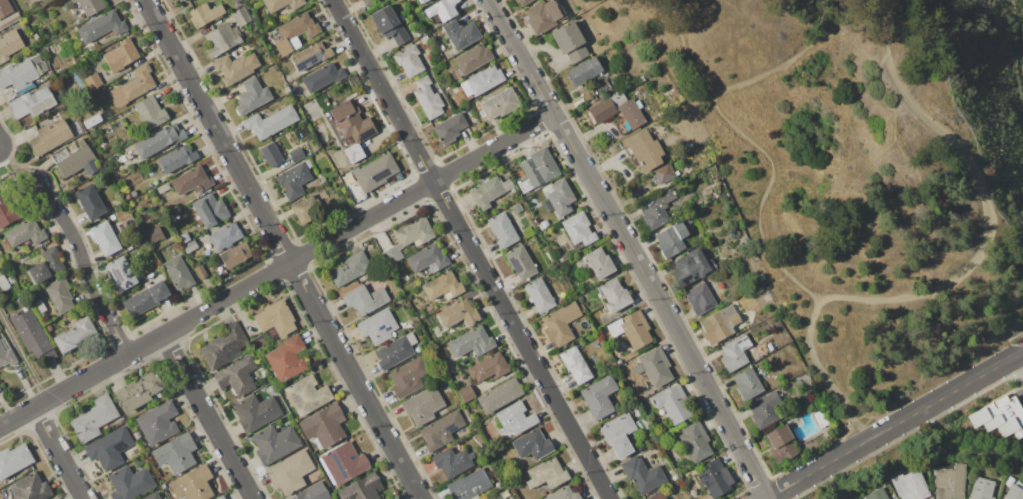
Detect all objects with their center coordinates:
building: (177, 0)
building: (180, 0)
building: (420, 1)
road: (667, 1)
building: (524, 2)
building: (282, 4)
building: (370, 4)
building: (90, 6)
building: (5, 9)
building: (442, 9)
building: (205, 14)
building: (544, 15)
building: (242, 16)
building: (389, 25)
building: (102, 26)
building: (297, 30)
building: (417, 33)
building: (460, 34)
building: (222, 39)
building: (424, 39)
building: (570, 41)
building: (9, 46)
building: (121, 55)
building: (312, 56)
road: (795, 58)
building: (471, 60)
building: (409, 61)
building: (235, 68)
building: (584, 72)
building: (18, 75)
building: (323, 77)
building: (641, 79)
building: (481, 81)
building: (93, 82)
building: (133, 86)
building: (287, 90)
building: (252, 96)
building: (427, 98)
building: (31, 104)
building: (499, 104)
building: (601, 111)
building: (150, 112)
building: (631, 114)
building: (93, 120)
building: (271, 121)
building: (352, 127)
building: (449, 129)
building: (50, 137)
building: (159, 140)
building: (643, 149)
road: (761, 151)
building: (271, 154)
building: (297, 154)
building: (177, 158)
building: (75, 160)
building: (309, 163)
road: (20, 170)
building: (535, 170)
building: (375, 172)
park: (862, 172)
building: (664, 173)
building: (191, 180)
building: (323, 180)
building: (294, 181)
building: (163, 188)
building: (489, 191)
building: (132, 193)
building: (126, 197)
building: (558, 198)
building: (90, 201)
building: (306, 208)
building: (517, 208)
building: (210, 210)
building: (657, 210)
building: (7, 211)
building: (545, 223)
building: (502, 230)
building: (578, 230)
building: (527, 232)
building: (25, 233)
building: (155, 235)
building: (226, 236)
building: (184, 237)
building: (104, 238)
building: (408, 239)
building: (671, 239)
building: (190, 246)
building: (206, 247)
road: (630, 247)
road: (283, 249)
road: (471, 249)
building: (236, 255)
building: (428, 259)
building: (520, 262)
building: (599, 263)
building: (46, 266)
building: (692, 267)
road: (964, 267)
building: (349, 269)
road: (277, 270)
road: (86, 271)
building: (201, 271)
building: (178, 272)
building: (120, 274)
building: (6, 283)
building: (443, 286)
building: (60, 295)
building: (538, 296)
building: (614, 296)
building: (145, 299)
building: (365, 299)
building: (700, 299)
building: (40, 306)
building: (458, 313)
building: (275, 319)
building: (560, 324)
building: (720, 324)
building: (379, 326)
building: (632, 329)
building: (74, 334)
building: (33, 335)
building: (472, 342)
building: (224, 346)
building: (770, 347)
building: (396, 351)
building: (735, 353)
building: (7, 356)
building: (287, 358)
building: (754, 358)
road: (1019, 363)
building: (575, 365)
building: (488, 367)
building: (646, 372)
building: (237, 377)
building: (408, 377)
building: (747, 384)
building: (138, 391)
building: (466, 393)
building: (307, 395)
building: (499, 396)
building: (599, 397)
road: (932, 403)
building: (673, 404)
building: (422, 405)
building: (766, 409)
building: (256, 412)
road: (208, 416)
building: (1000, 417)
building: (94, 418)
building: (515, 418)
building: (821, 418)
building: (158, 423)
building: (642, 424)
building: (324, 426)
building: (441, 431)
building: (136, 435)
building: (618, 436)
building: (695, 442)
building: (275, 444)
building: (781, 444)
building: (533, 445)
building: (109, 448)
road: (58, 453)
building: (176, 454)
building: (14, 460)
building: (453, 462)
building: (344, 463)
building: (290, 473)
building: (547, 474)
building: (642, 475)
road: (804, 477)
building: (714, 478)
building: (949, 482)
building: (130, 483)
building: (192, 484)
building: (469, 485)
building: (909, 485)
building: (30, 487)
building: (362, 488)
building: (982, 488)
building: (313, 492)
building: (504, 493)
building: (1014, 493)
building: (564, 494)
building: (876, 494)
building: (152, 496)
building: (658, 496)
building: (220, 497)
building: (495, 497)
building: (55, 498)
building: (894, 498)

